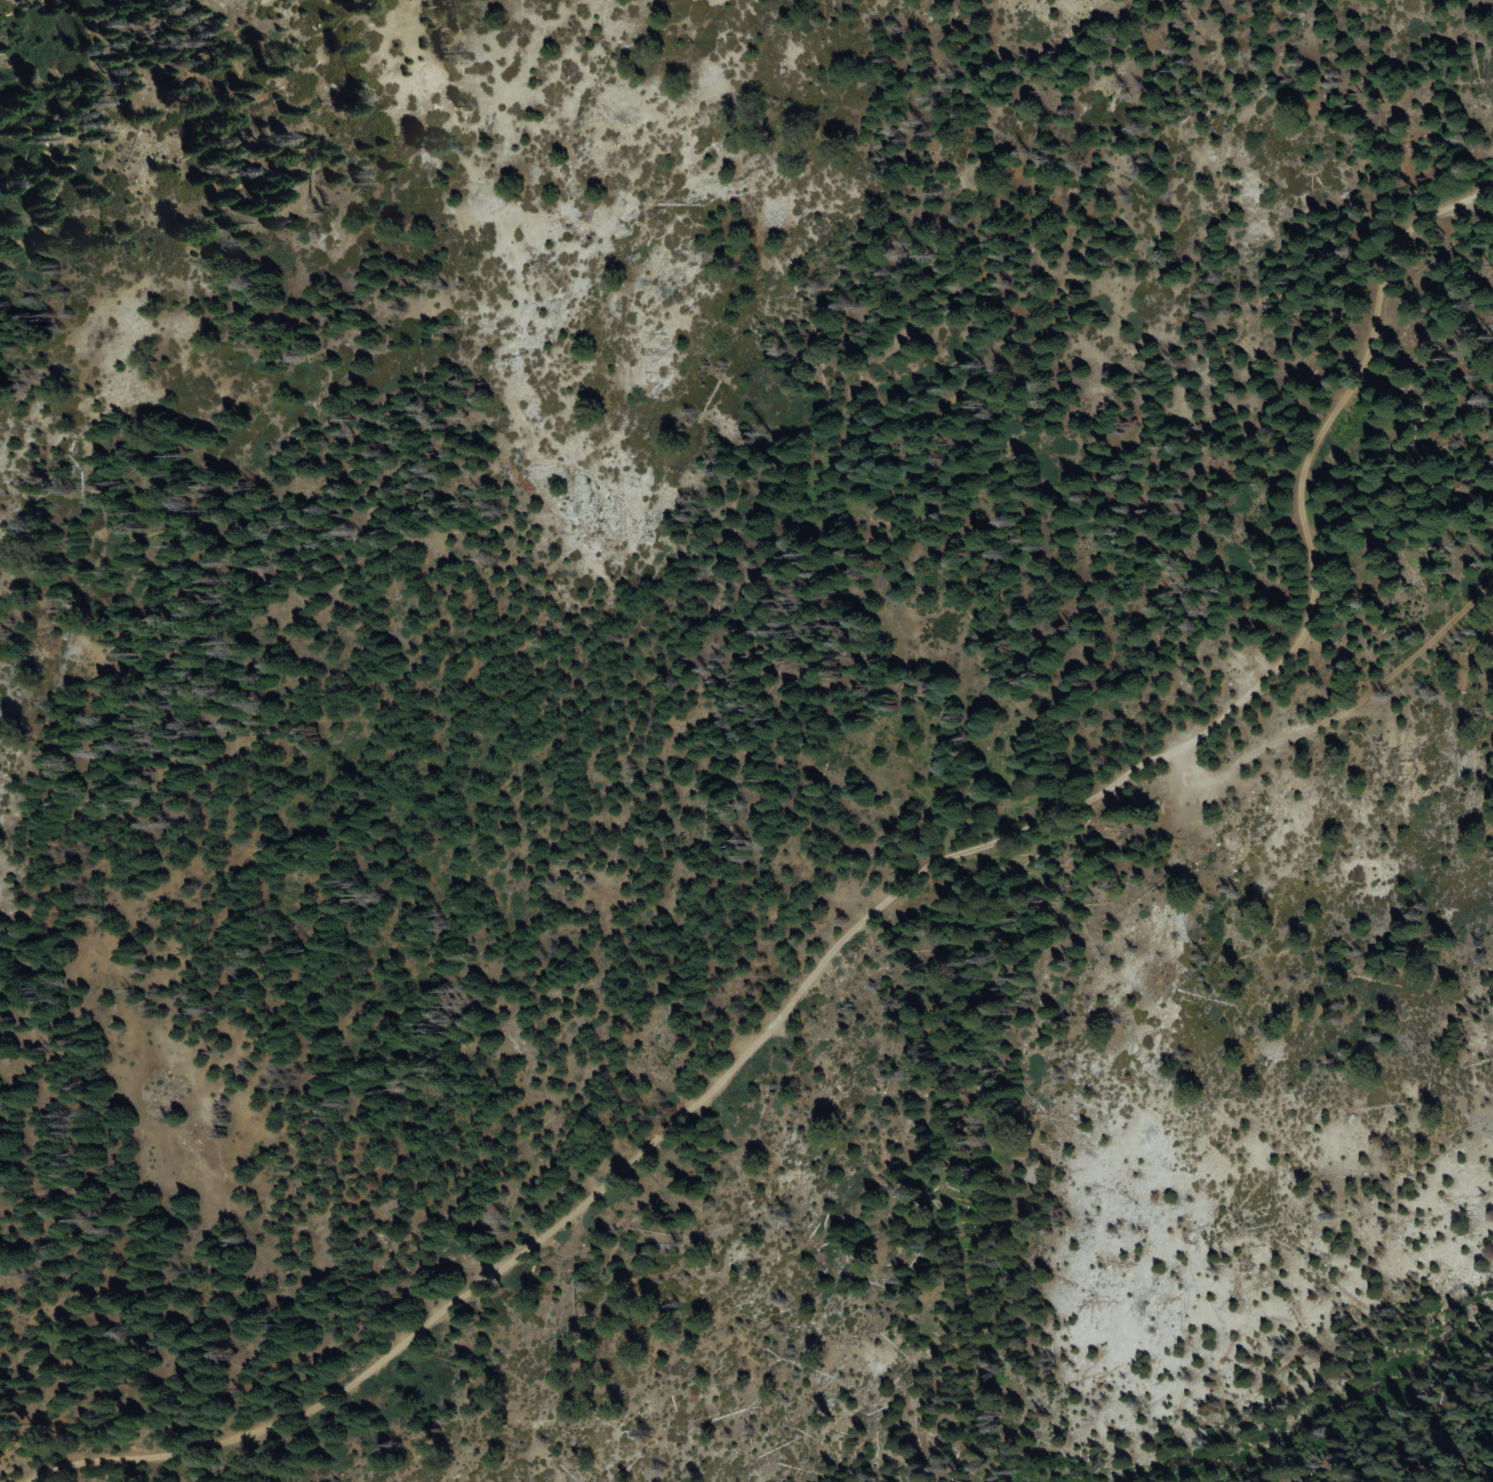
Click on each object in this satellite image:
road: (1362, 712)
road: (873, 914)

